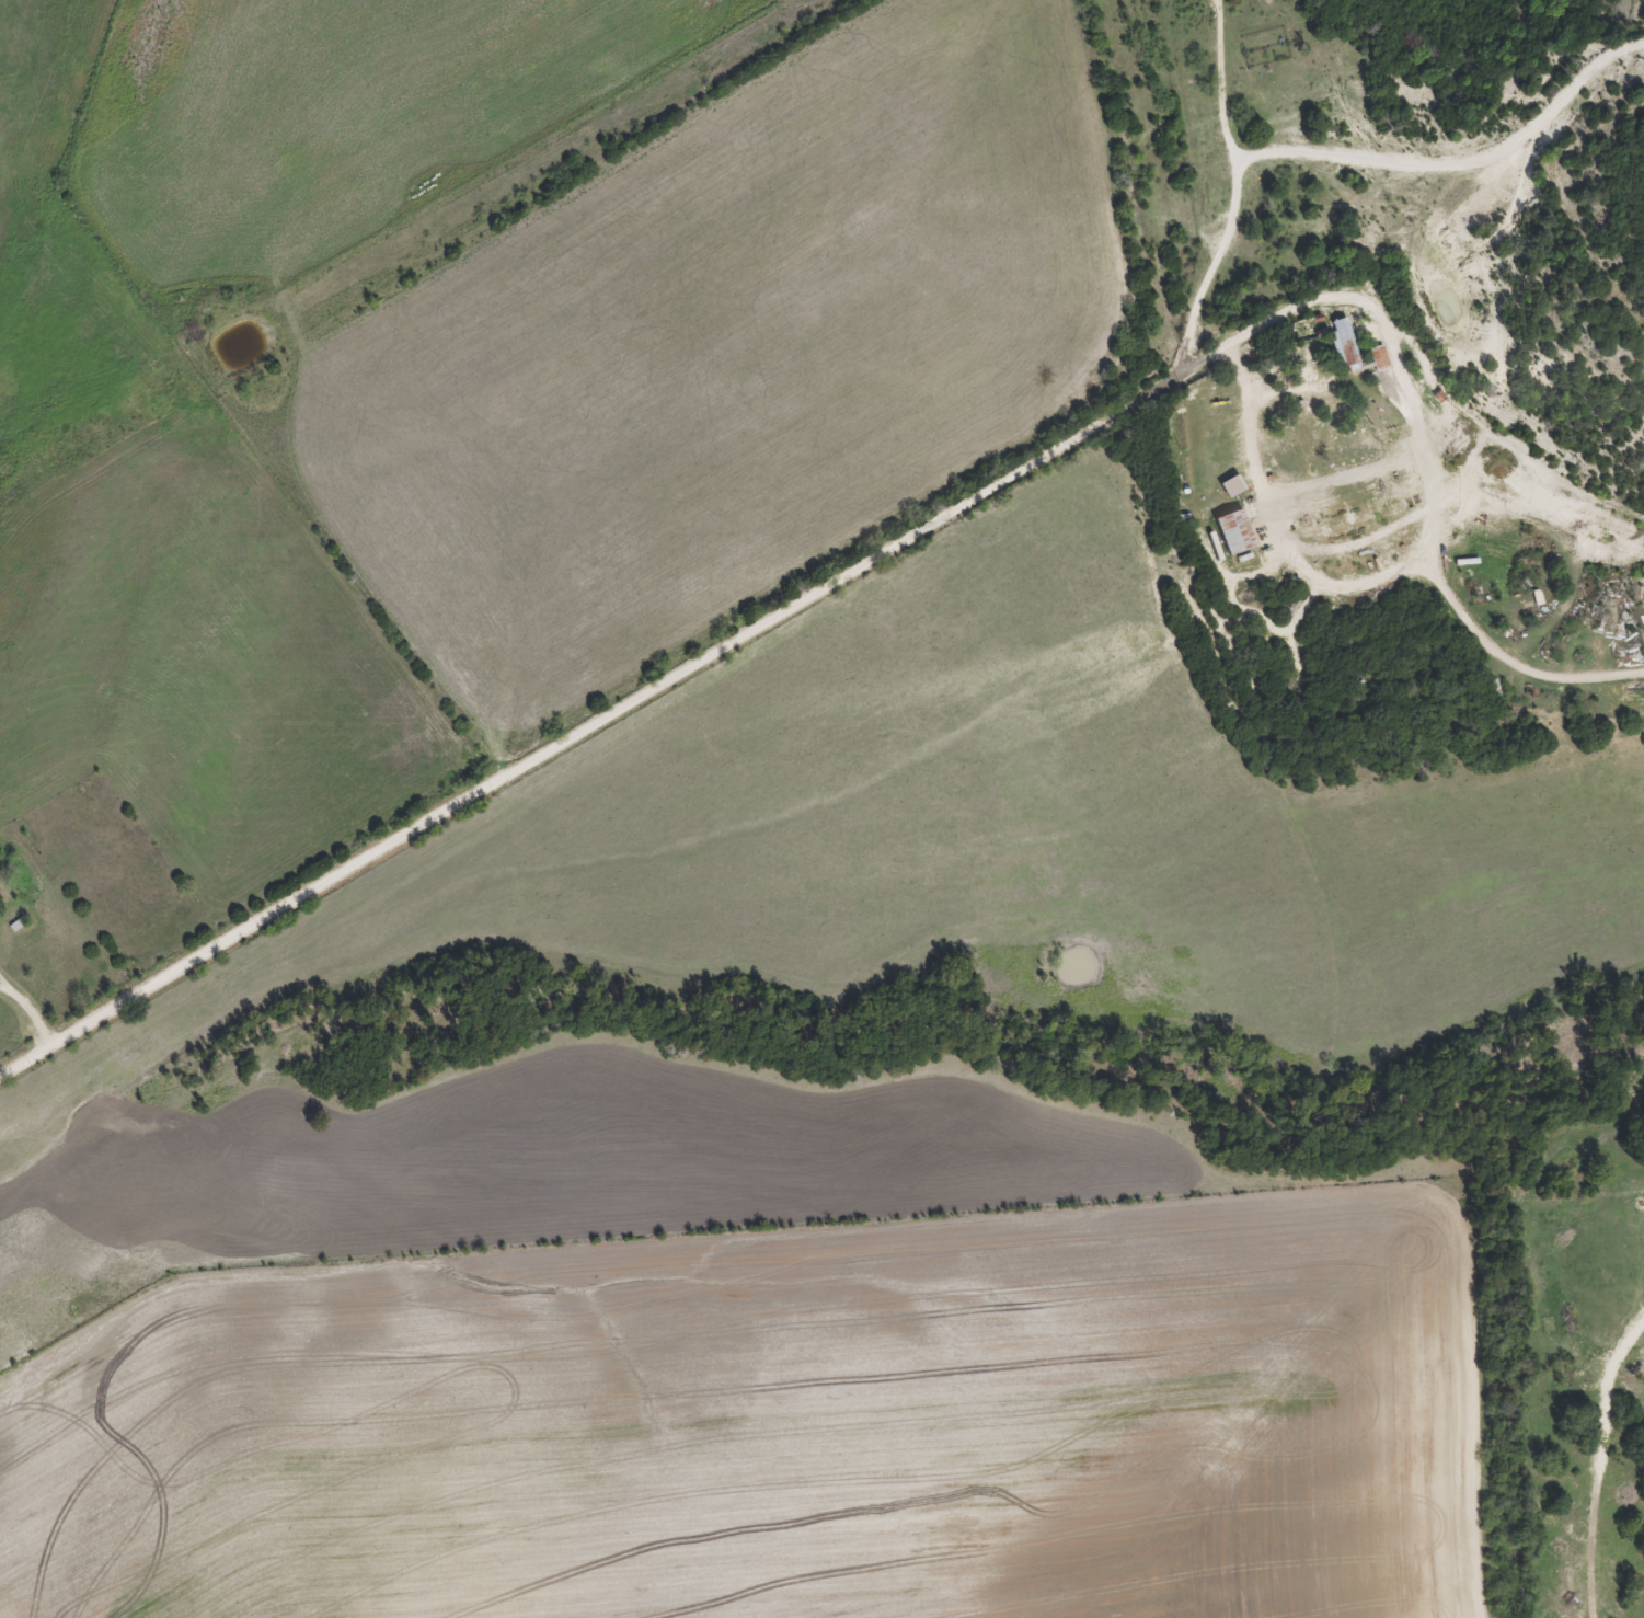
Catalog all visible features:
building: (1349, 352)
building: (1233, 530)
road: (677, 674)

